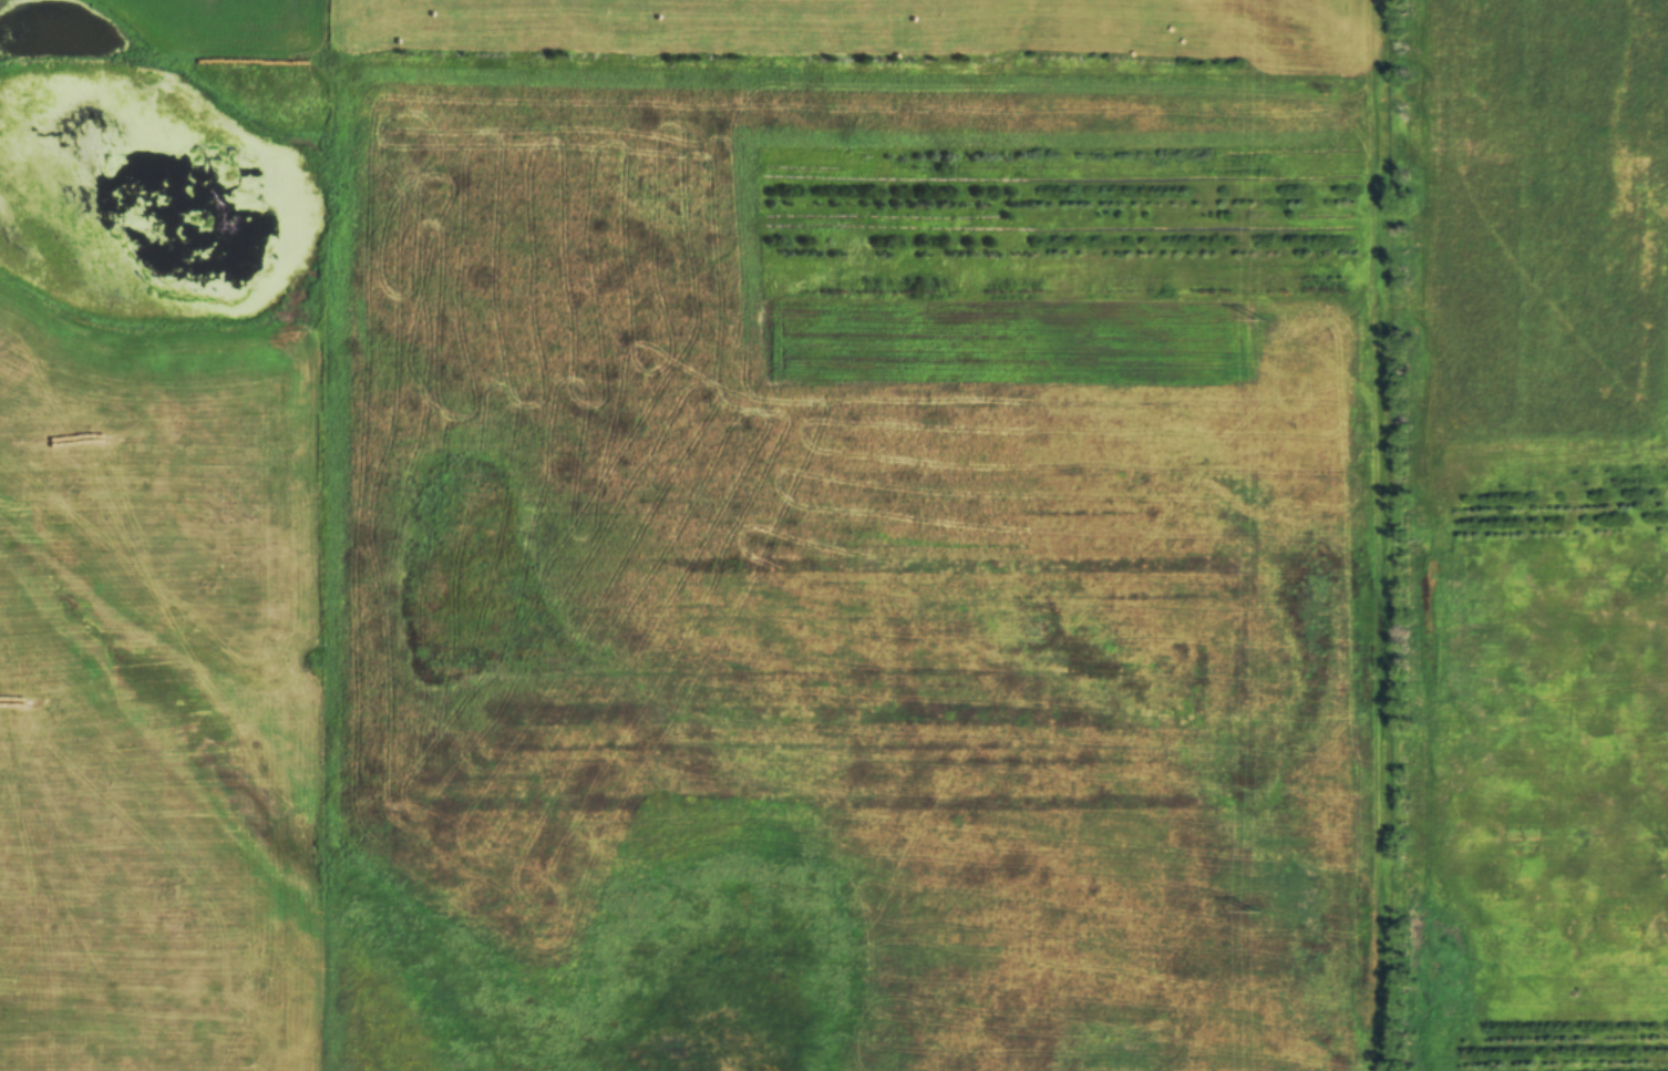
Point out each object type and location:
power tower: (1262, 320)
road: (1366, 535)
power tower: (1254, 913)

